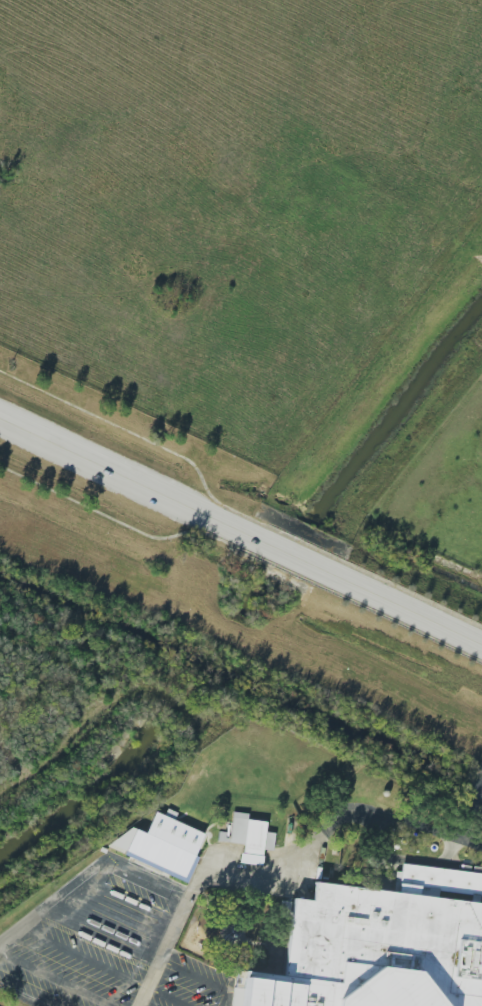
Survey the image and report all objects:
road: (241, 534)
road: (469, 808)
building: (248, 838)
building: (162, 845)
road: (275, 856)
road: (408, 862)
road: (460, 867)
road: (408, 877)
road: (154, 880)
building: (441, 882)
theme park: (262, 893)
road: (57, 905)
road: (400, 949)
building: (377, 951)
road: (89, 959)
road: (196, 975)
road: (57, 980)
road: (22, 995)
road: (169, 998)
road: (228, 999)

